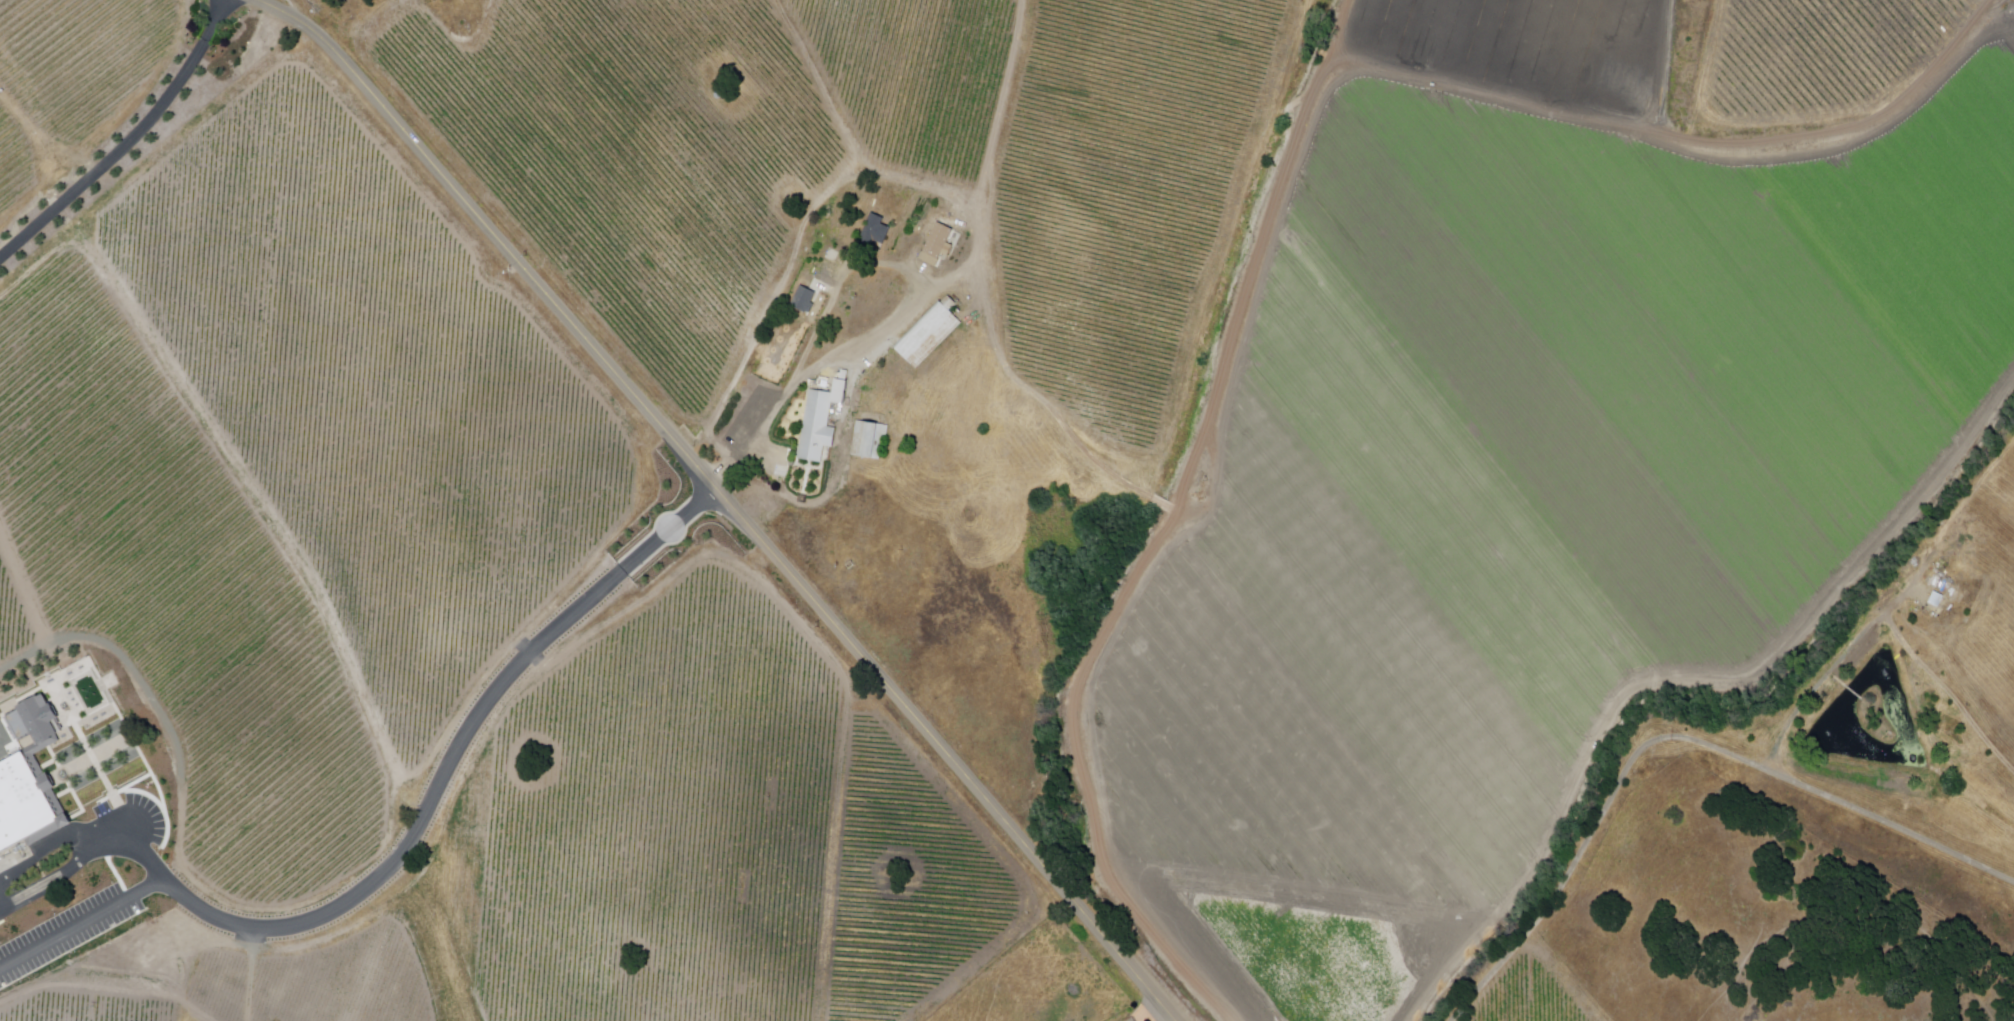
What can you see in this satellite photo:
crop: (1533, 47)
road: (129, 144)
building: (875, 232)
building: (939, 241)
building: (805, 301)
building: (930, 334)
building: (817, 428)
building: (870, 441)
road: (723, 497)
crop: (1520, 502)
building: (1159, 504)
road: (510, 678)
building: (38, 719)
road: (1676, 738)
building: (27, 807)
road: (1150, 1016)

